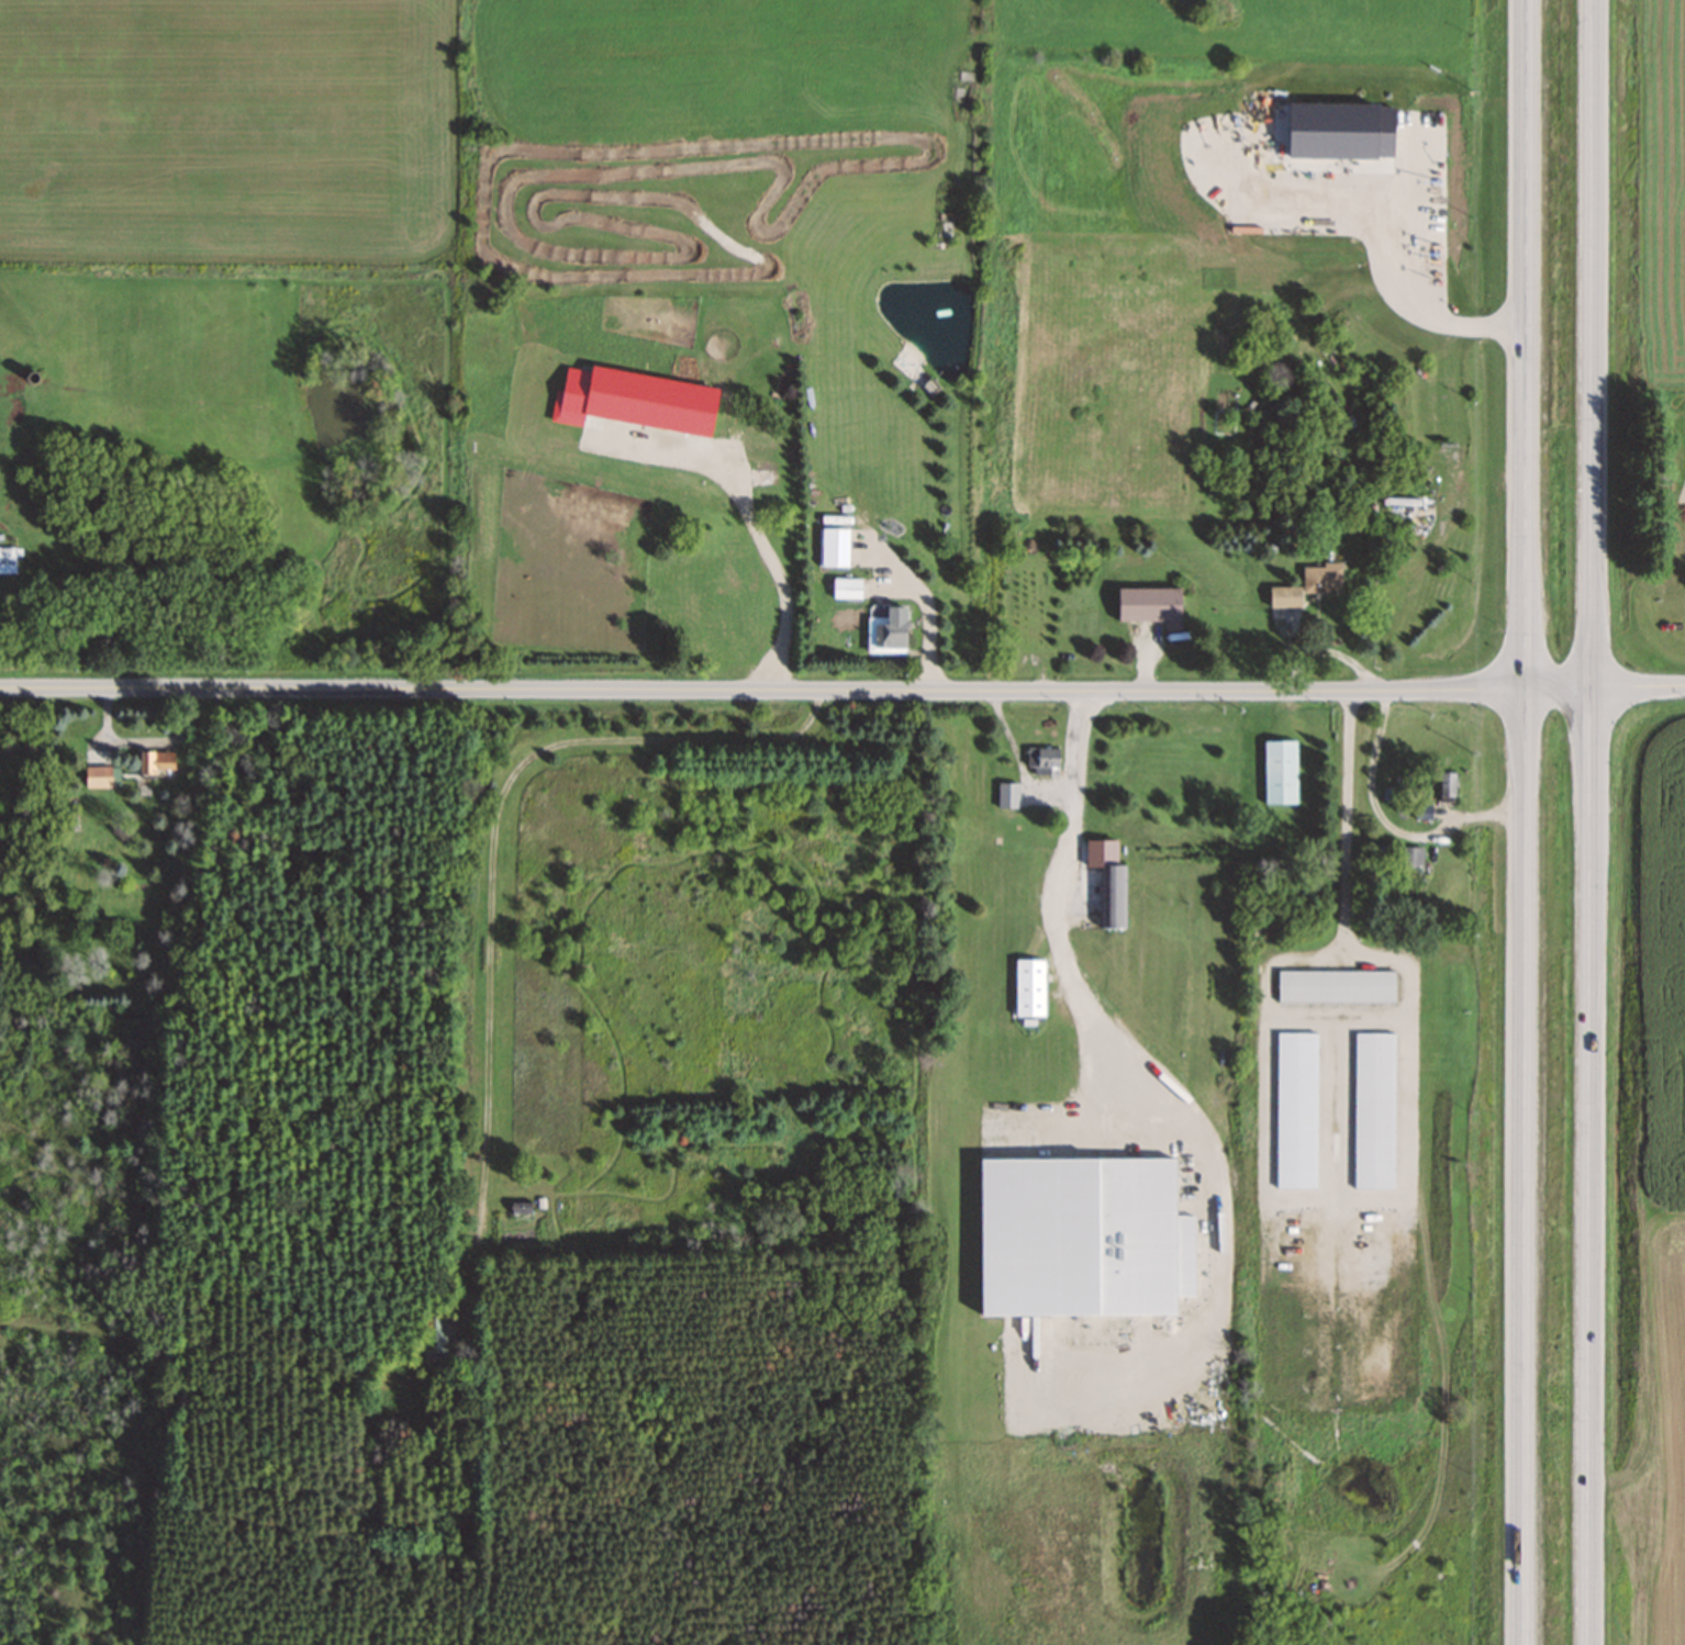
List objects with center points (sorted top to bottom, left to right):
building: (685, 399)
building: (765, 470)
building: (833, 546)
building: (8, 559)
building: (1320, 577)
building: (847, 586)
building: (1284, 595)
building: (1149, 604)
building: (886, 630)
building: (735, 646)
road: (843, 691)
building: (1042, 759)
building: (155, 761)
building: (1279, 771)
building: (102, 775)
building: (1446, 783)
building: (1007, 794)
road: (1525, 822)
road: (1591, 822)
building: (1411, 855)
building: (1408, 879)
building: (1108, 881)
building: (1335, 985)
building: (1029, 987)
building: (518, 1207)
building: (434, 1334)

